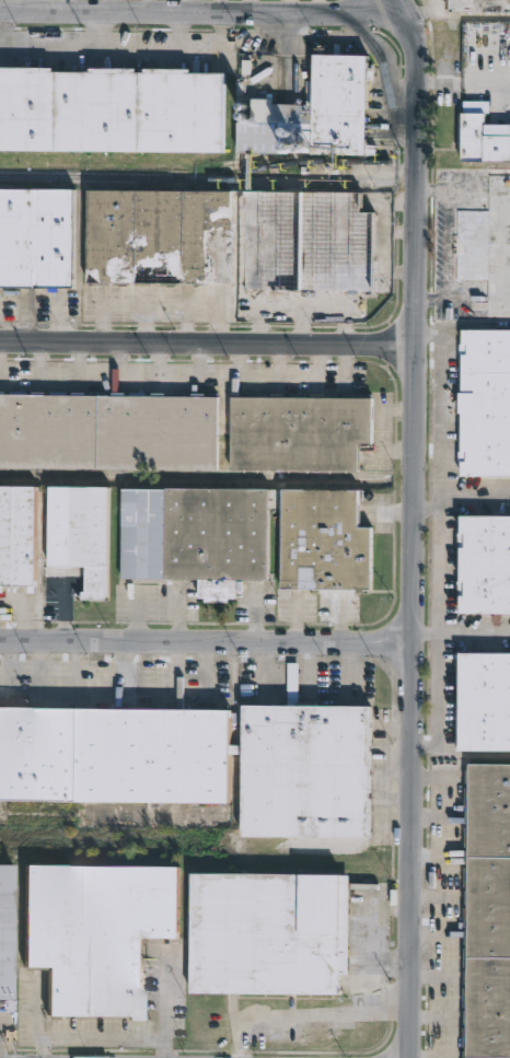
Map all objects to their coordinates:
building: (478, 5)
road: (198, 11)
road: (455, 15)
road: (101, 27)
road: (181, 27)
road: (111, 45)
building: (113, 111)
building: (317, 114)
building: (480, 136)
railway: (197, 176)
railway: (197, 185)
building: (161, 237)
building: (34, 240)
building: (310, 243)
building: (487, 245)
road: (208, 346)
road: (448, 395)
building: (485, 402)
building: (109, 432)
building: (301, 432)
road: (477, 489)
road: (413, 526)
building: (82, 533)
building: (18, 535)
building: (246, 536)
building: (485, 562)
road: (447, 613)
road: (460, 627)
road: (206, 641)
road: (266, 670)
road: (308, 671)
road: (351, 671)
building: (369, 682)
building: (486, 700)
building: (116, 754)
road: (395, 763)
road: (379, 765)
building: (309, 768)
building: (488, 911)
building: (5, 931)
building: (97, 933)
building: (267, 933)
road: (366, 935)
road: (35, 1008)
road: (164, 1011)
road: (304, 1019)
road: (88, 1033)

